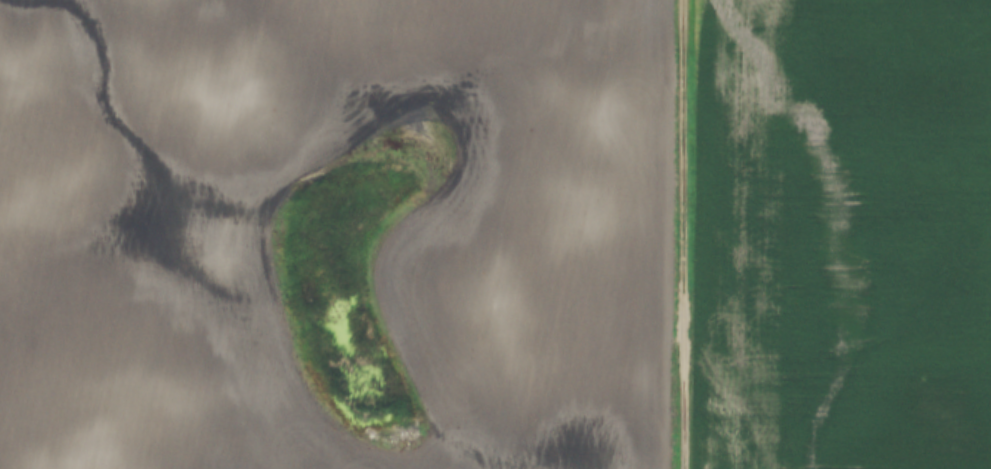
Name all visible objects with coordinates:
road: (689, 234)

